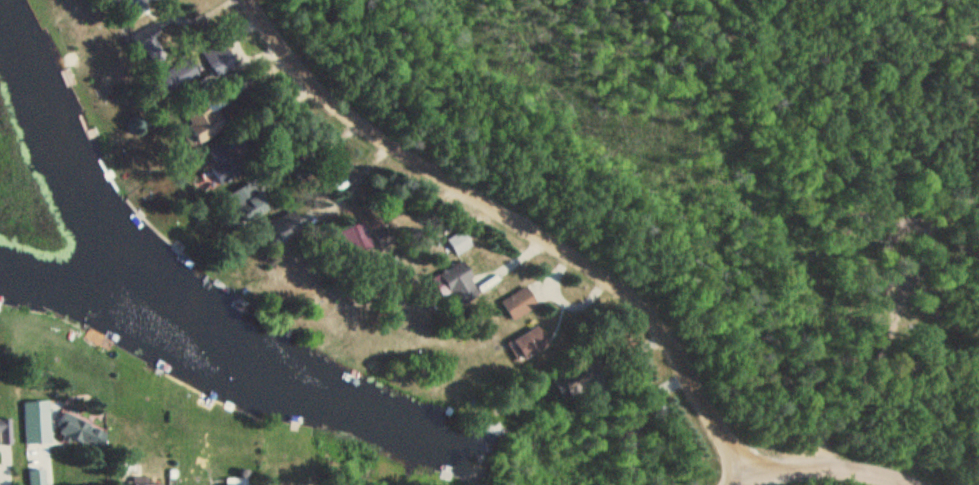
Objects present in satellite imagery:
building: (221, 63)
building: (180, 74)
building: (208, 121)
building: (227, 161)
building: (239, 196)
road: (520, 217)
building: (457, 284)
building: (519, 304)
building: (531, 344)
building: (575, 386)
building: (83, 431)
building: (3, 432)
building: (38, 434)
road: (820, 466)
building: (238, 482)

